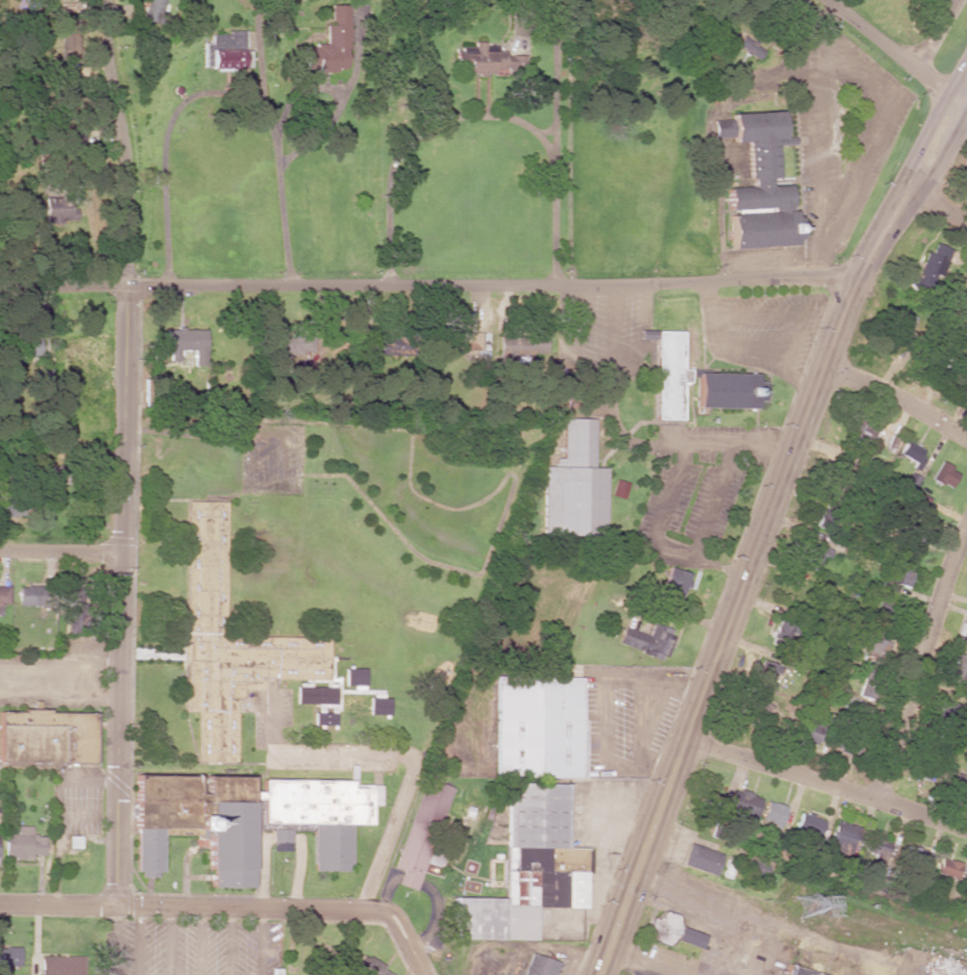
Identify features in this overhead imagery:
building: (66, 7)
building: (152, 11)
building: (65, 35)
building: (331, 44)
building: (750, 47)
road: (891, 50)
building: (224, 51)
building: (486, 60)
road: (962, 82)
building: (65, 84)
road: (962, 95)
road: (962, 102)
building: (758, 182)
building: (58, 209)
road: (938, 210)
building: (929, 268)
road: (427, 285)
building: (964, 291)
building: (468, 343)
building: (186, 344)
building: (20, 345)
building: (290, 346)
building: (518, 347)
building: (373, 351)
building: (667, 373)
building: (962, 375)
building: (725, 390)
road: (893, 399)
building: (863, 435)
road: (124, 450)
building: (911, 461)
building: (943, 475)
building: (573, 485)
building: (619, 489)
building: (11, 509)
road: (759, 528)
building: (912, 546)
road: (60, 552)
building: (814, 555)
building: (898, 574)
building: (674, 582)
building: (4, 595)
building: (35, 596)
building: (73, 609)
building: (889, 611)
building: (780, 632)
building: (962, 633)
building: (646, 640)
building: (228, 641)
building: (874, 644)
road: (918, 661)
building: (959, 667)
building: (765, 673)
building: (354, 677)
building: (314, 694)
building: (352, 703)
building: (379, 704)
building: (950, 711)
building: (323, 718)
building: (538, 726)
building: (809, 733)
building: (46, 737)
road: (825, 783)
building: (742, 803)
building: (772, 812)
building: (247, 820)
building: (809, 824)
building: (423, 835)
building: (73, 842)
building: (22, 844)
building: (855, 844)
building: (914, 854)
building: (701, 859)
building: (528, 868)
building: (948, 868)
road: (229, 906)
power tower: (808, 908)
building: (673, 930)
building: (9, 958)
building: (60, 965)
building: (539, 966)
building: (370, 967)
building: (801, 970)

